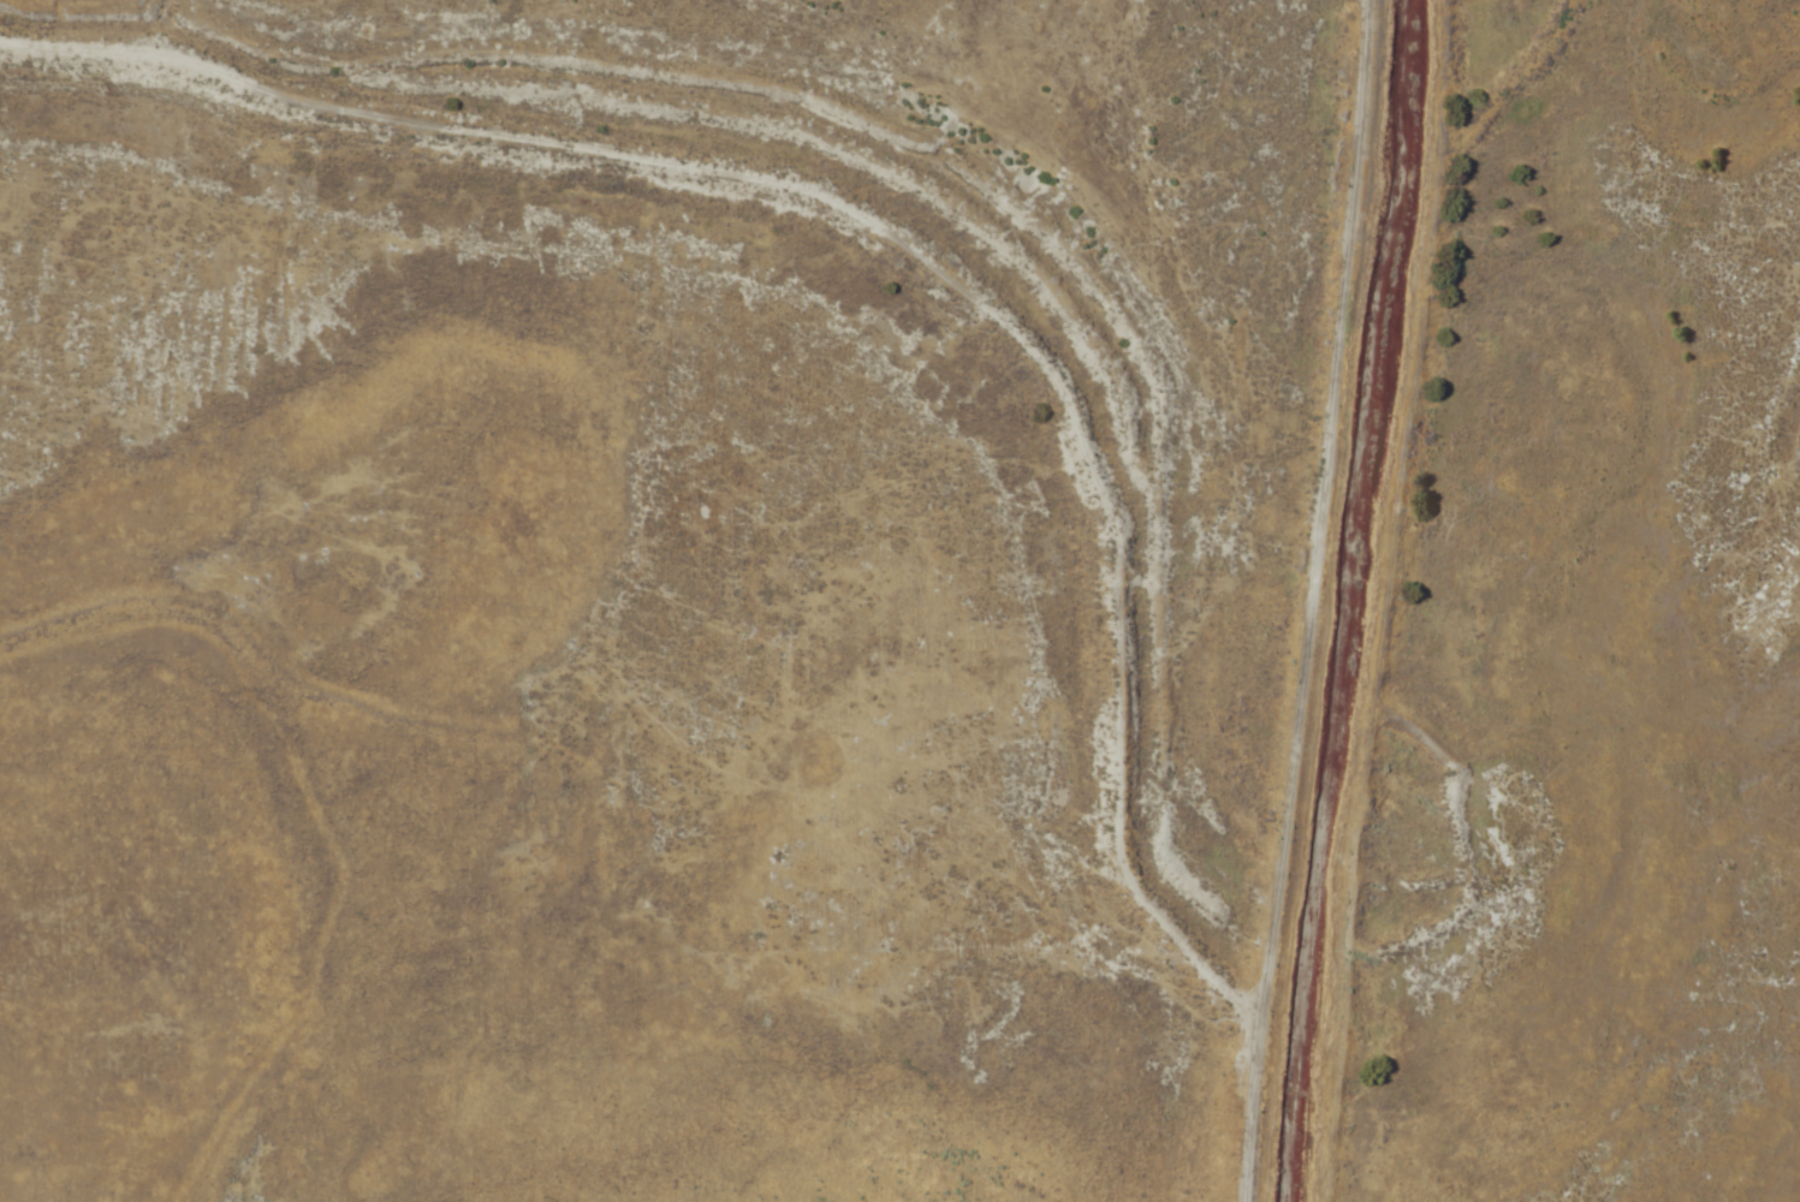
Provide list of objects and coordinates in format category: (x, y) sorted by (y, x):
road: (1285, 601)
road: (1403, 1014)

